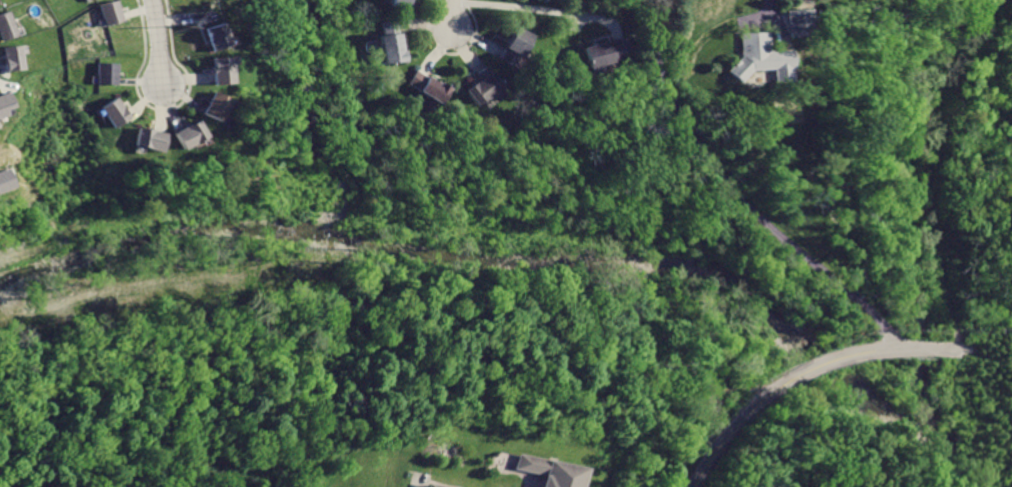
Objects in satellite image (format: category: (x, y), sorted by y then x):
building: (100, 0)
building: (399, 5)
road: (544, 10)
building: (114, 13)
road: (455, 15)
building: (795, 22)
road: (771, 25)
building: (6, 28)
building: (214, 35)
road: (161, 40)
building: (392, 41)
building: (515, 48)
building: (605, 51)
building: (755, 56)
building: (11, 57)
building: (219, 70)
building: (106, 74)
building: (426, 85)
building: (486, 87)
building: (4, 102)
building: (213, 106)
building: (114, 110)
building: (187, 133)
building: (147, 138)
building: (4, 179)
road: (935, 194)
road: (737, 196)
road: (984, 313)
road: (806, 372)
building: (544, 471)
building: (431, 485)

